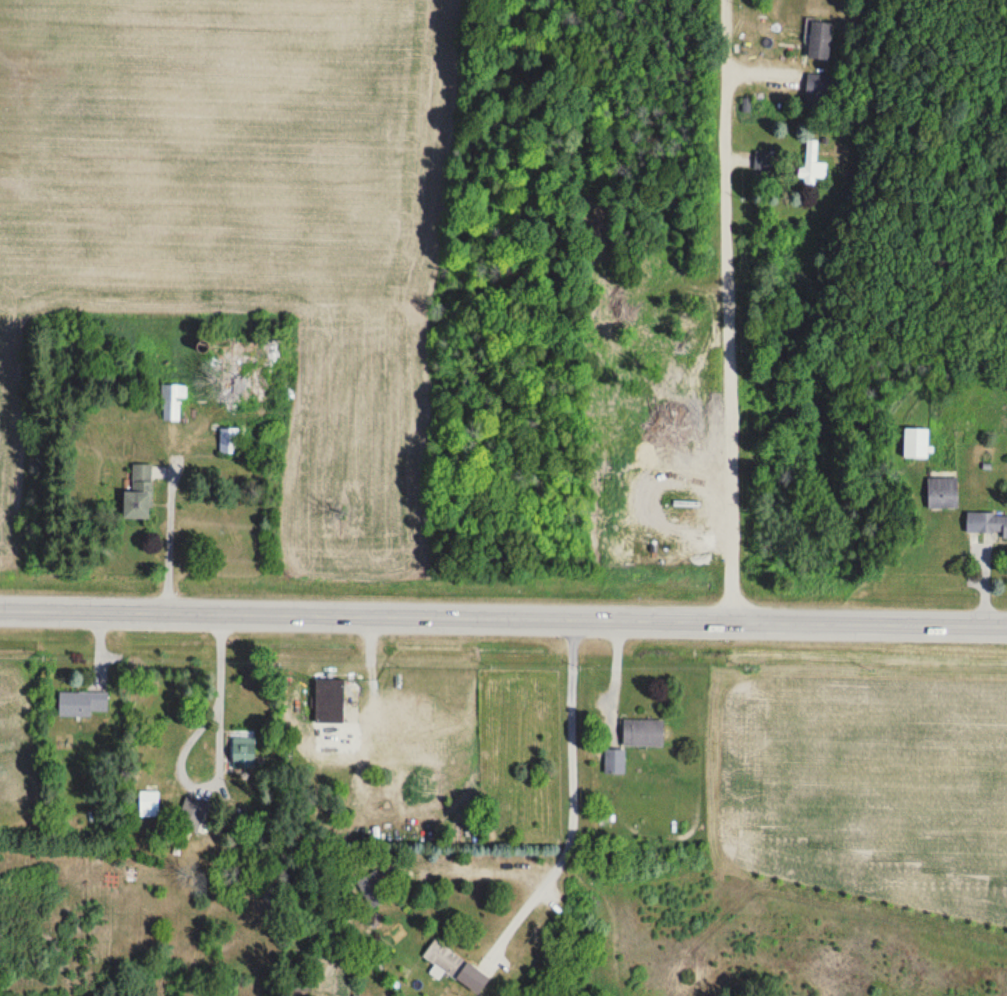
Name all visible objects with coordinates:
building: (820, 42)
building: (819, 84)
building: (813, 165)
building: (245, 366)
building: (172, 402)
building: (229, 441)
building: (916, 444)
building: (139, 494)
building: (943, 494)
building: (987, 524)
road: (503, 616)
road: (219, 686)
building: (329, 701)
building: (82, 703)
building: (643, 732)
building: (244, 750)
building: (615, 761)
building: (149, 813)
building: (191, 815)
building: (372, 891)
building: (445, 960)

